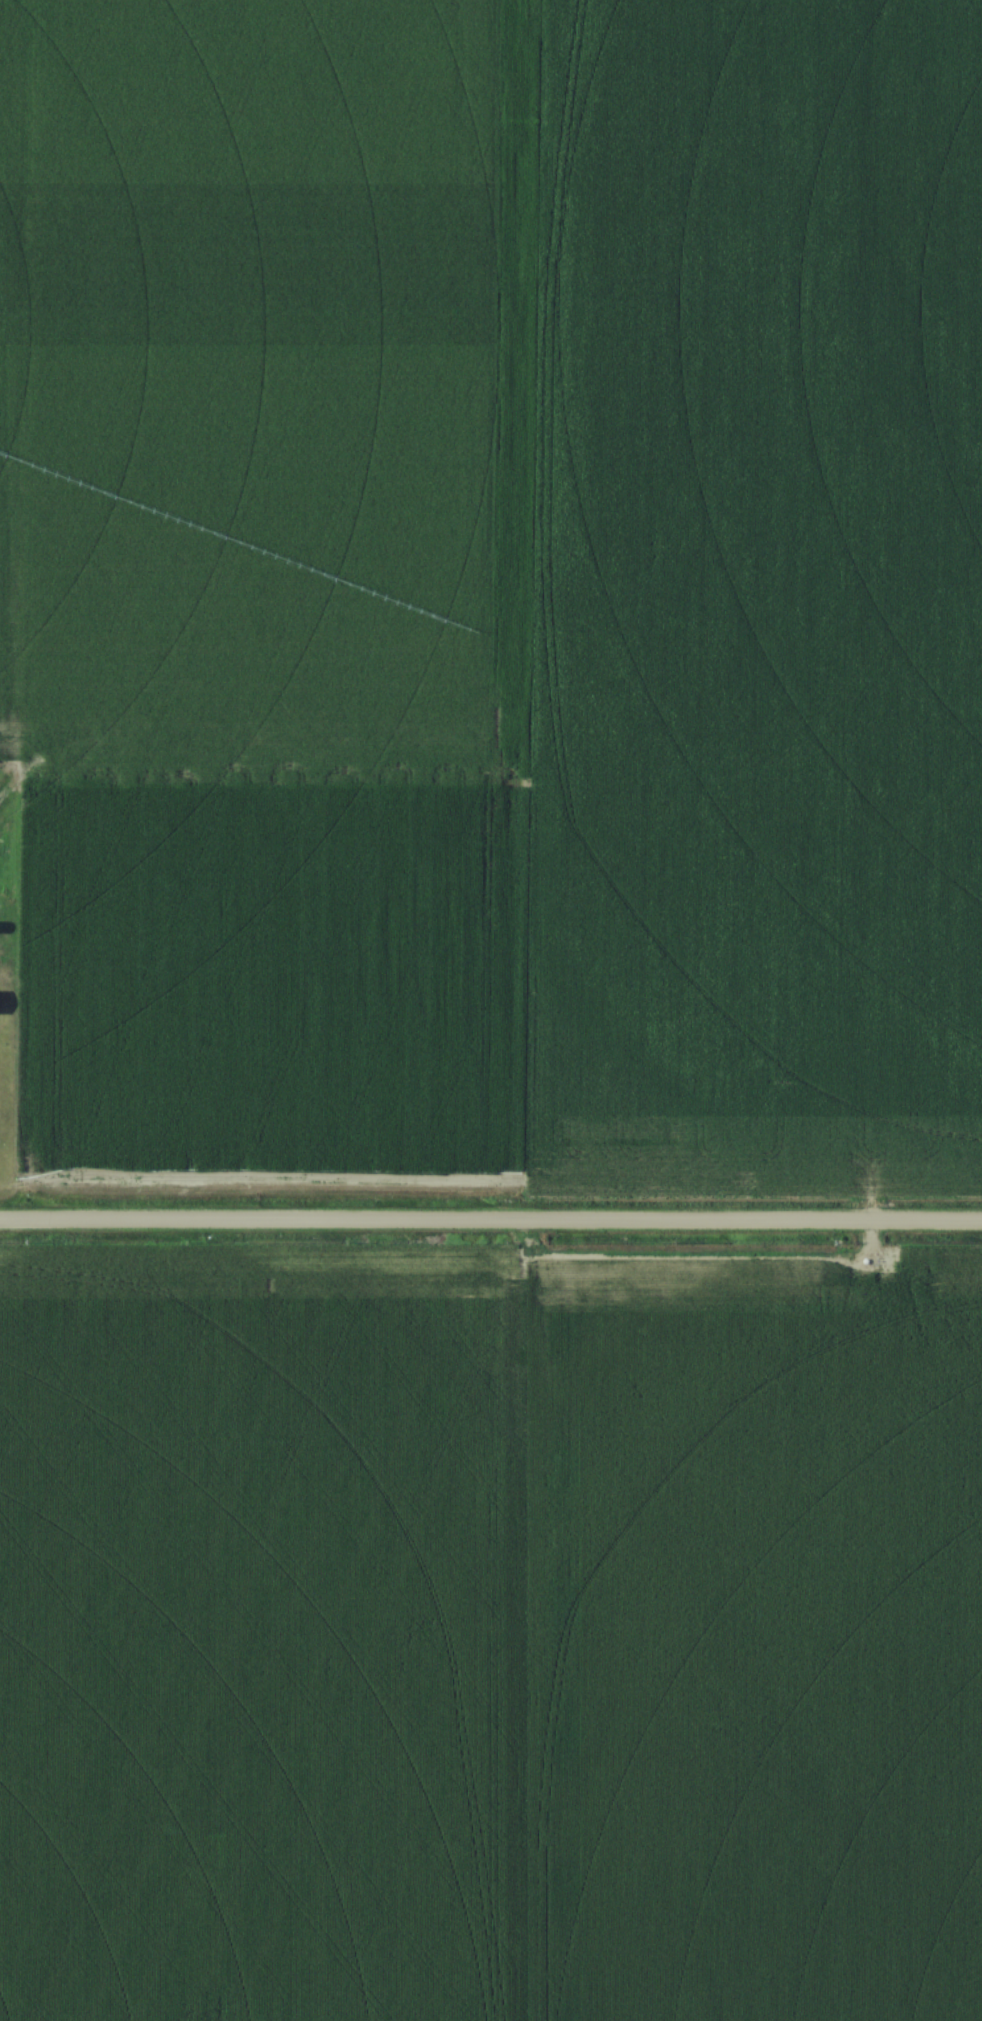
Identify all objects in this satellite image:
road: (491, 1221)

